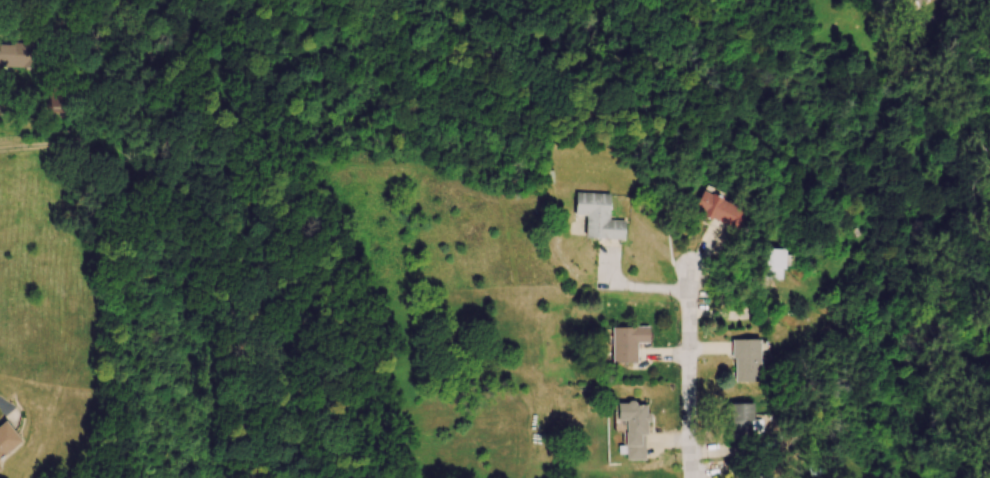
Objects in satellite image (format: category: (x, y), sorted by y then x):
building: (921, 3)
building: (10, 56)
building: (719, 212)
building: (600, 219)
building: (774, 266)
building: (629, 346)
building: (748, 364)
road: (689, 373)
building: (747, 425)
building: (635, 431)
building: (8, 440)
building: (1, 469)
building: (753, 471)

